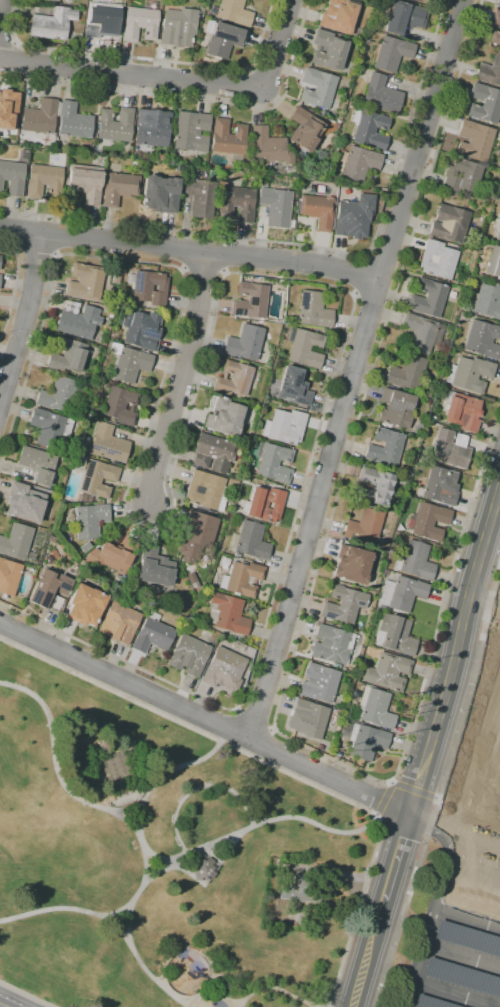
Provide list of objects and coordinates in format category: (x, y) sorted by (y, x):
building: (51, 0)
building: (422, 1)
building: (498, 3)
road: (0, 6)
building: (201, 10)
building: (232, 12)
building: (339, 15)
building: (402, 17)
building: (101, 18)
building: (496, 18)
building: (52, 24)
building: (139, 24)
building: (178, 27)
building: (495, 38)
building: (222, 39)
building: (328, 50)
building: (392, 53)
road: (146, 57)
building: (489, 70)
road: (176, 80)
building: (317, 88)
building: (381, 94)
road: (193, 99)
building: (484, 103)
building: (8, 109)
building: (40, 117)
building: (73, 121)
building: (115, 124)
building: (152, 128)
building: (304, 129)
building: (369, 129)
building: (191, 131)
building: (228, 139)
building: (475, 140)
building: (269, 147)
building: (23, 156)
building: (357, 162)
building: (285, 171)
building: (462, 176)
building: (12, 177)
building: (44, 181)
building: (86, 182)
building: (263, 184)
building: (119, 188)
building: (160, 194)
building: (200, 197)
building: (236, 203)
building: (276, 207)
building: (316, 211)
building: (354, 217)
building: (449, 223)
building: (497, 228)
road: (316, 247)
road: (35, 252)
road: (190, 252)
building: (0, 258)
building: (437, 260)
building: (492, 261)
road: (358, 275)
building: (115, 279)
building: (86, 282)
building: (148, 287)
road: (13, 289)
building: (428, 298)
building: (250, 300)
building: (487, 301)
building: (314, 310)
road: (214, 312)
road: (24, 318)
building: (77, 321)
building: (141, 329)
building: (422, 332)
building: (481, 339)
building: (245, 342)
building: (304, 348)
building: (67, 356)
building: (440, 356)
building: (127, 363)
road: (354, 369)
building: (407, 373)
building: (469, 374)
road: (180, 379)
building: (233, 379)
building: (294, 386)
building: (425, 391)
building: (57, 395)
building: (120, 406)
building: (395, 409)
building: (463, 411)
building: (223, 417)
building: (431, 419)
building: (284, 426)
building: (49, 427)
building: (416, 428)
building: (108, 444)
building: (384, 448)
building: (450, 449)
building: (213, 453)
building: (273, 462)
building: (37, 464)
building: (350, 470)
building: (235, 476)
building: (97, 479)
building: (244, 479)
building: (400, 479)
building: (232, 483)
building: (374, 486)
building: (439, 486)
building: (205, 491)
building: (83, 499)
building: (24, 502)
building: (264, 504)
building: (89, 520)
building: (427, 521)
building: (364, 526)
building: (196, 535)
building: (250, 541)
building: (17, 543)
building: (112, 556)
building: (225, 561)
building: (414, 561)
building: (352, 564)
building: (154, 567)
building: (384, 572)
building: (8, 576)
building: (242, 579)
building: (192, 580)
building: (122, 581)
building: (49, 591)
building: (400, 594)
road: (492, 594)
road: (483, 604)
building: (85, 605)
building: (343, 605)
building: (227, 614)
road: (302, 617)
road: (493, 619)
building: (119, 623)
building: (152, 634)
building: (394, 634)
building: (330, 644)
building: (248, 652)
road: (455, 654)
building: (188, 655)
building: (224, 670)
building: (387, 672)
building: (319, 683)
building: (374, 708)
building: (313, 718)
road: (205, 720)
road: (253, 721)
road: (231, 728)
road: (487, 731)
building: (363, 739)
road: (266, 746)
building: (336, 754)
building: (116, 767)
road: (280, 770)
road: (491, 771)
road: (164, 774)
road: (397, 785)
road: (194, 788)
building: (499, 788)
road: (456, 796)
road: (477, 800)
road: (126, 809)
road: (433, 812)
road: (257, 823)
road: (433, 826)
road: (134, 828)
road: (478, 840)
road: (158, 858)
park: (160, 858)
road: (396, 859)
building: (203, 869)
road: (336, 873)
road: (209, 876)
building: (298, 890)
parking lot: (351, 891)
road: (467, 917)
road: (431, 920)
road: (116, 923)
parking lot: (460, 928)
building: (468, 938)
road: (190, 950)
road: (368, 953)
road: (462, 955)
building: (463, 977)
road: (156, 983)
road: (272, 988)
road: (455, 994)
road: (25, 995)
building: (432, 1002)
road: (187, 1004)

